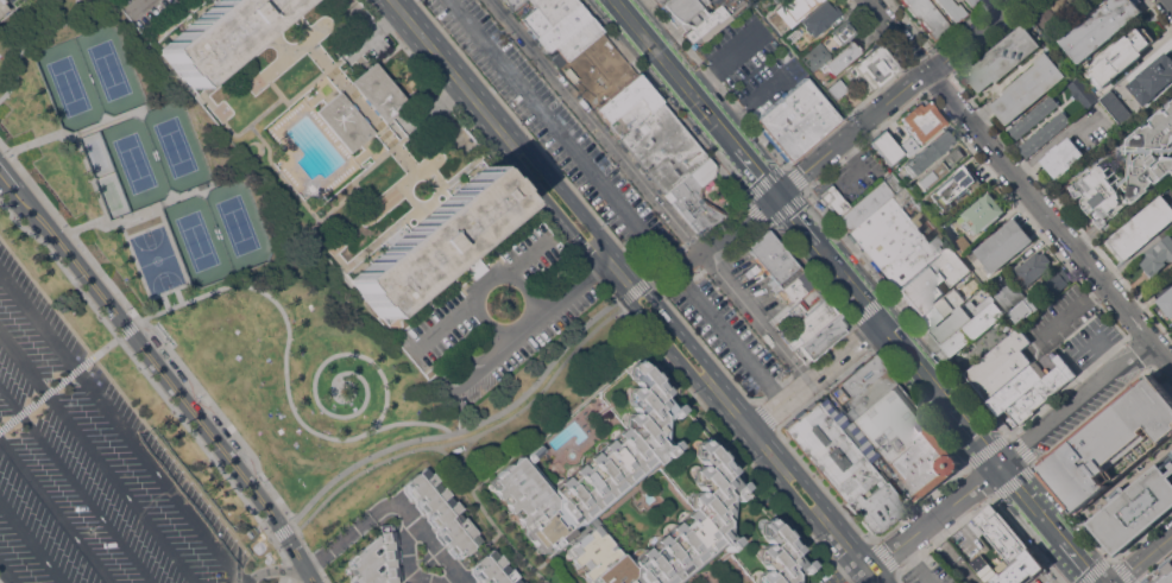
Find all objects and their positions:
building: (661, 1)
building: (775, 1)
road: (1170, 1)
road: (1171, 1)
building: (973, 2)
building: (1077, 2)
building: (512, 4)
building: (795, 5)
building: (2, 6)
road: (138, 7)
building: (554, 7)
building: (1061, 7)
building: (523, 8)
building: (952, 9)
building: (683, 12)
parking lot: (153, 14)
building: (928, 17)
building: (1047, 17)
building: (820, 18)
building: (777, 21)
building: (705, 24)
building: (1101, 26)
building: (562, 27)
building: (844, 30)
building: (218, 34)
road: (367, 34)
building: (600, 34)
road: (25, 38)
road: (880, 42)
building: (574, 43)
building: (815, 56)
building: (1120, 57)
building: (840, 58)
building: (1003, 58)
road: (724, 61)
building: (872, 68)
road: (610, 69)
parking lot: (598, 70)
park: (87, 75)
road: (678, 75)
building: (1153, 78)
road: (716, 83)
building: (837, 88)
building: (1028, 88)
building: (1083, 91)
building: (378, 93)
road: (758, 100)
road: (668, 104)
building: (628, 106)
building: (1117, 106)
building: (1034, 116)
building: (796, 120)
building: (921, 121)
building: (344, 122)
road: (859, 127)
building: (1045, 133)
building: (908, 145)
road: (78, 146)
building: (663, 147)
building: (886, 147)
road: (491, 151)
park: (153, 153)
building: (926, 153)
building: (1061, 157)
building: (939, 166)
building: (704, 172)
road: (760, 172)
building: (1128, 172)
road: (1020, 182)
road: (647, 189)
building: (953, 189)
traffic signals: (779, 195)
parking lot: (612, 196)
road: (615, 199)
building: (833, 199)
building: (869, 202)
building: (693, 203)
road: (140, 210)
building: (984, 213)
road: (799, 218)
building: (1142, 227)
road: (145, 229)
road: (69, 232)
park: (216, 233)
building: (896, 239)
building: (433, 241)
building: (962, 245)
building: (1004, 245)
road: (63, 248)
building: (1158, 256)
road: (524, 258)
building: (773, 258)
park: (157, 262)
road: (688, 264)
building: (1034, 266)
road: (661, 273)
road: (511, 279)
building: (933, 279)
park: (259, 280)
building: (1057, 281)
road: (637, 284)
parking lot: (756, 284)
building: (774, 285)
building: (796, 286)
road: (622, 290)
road: (634, 290)
road: (169, 291)
building: (1009, 294)
road: (177, 296)
building: (785, 297)
road: (164, 302)
building: (1166, 302)
road: (1072, 308)
building: (943, 310)
building: (1023, 310)
building: (792, 315)
parking lot: (498, 316)
building: (959, 319)
road: (538, 321)
road: (443, 322)
building: (809, 324)
road: (887, 324)
road: (128, 327)
road: (522, 327)
building: (972, 328)
building: (820, 340)
road: (102, 348)
road: (1108, 356)
building: (997, 357)
road: (140, 366)
road: (77, 367)
road: (284, 369)
road: (809, 375)
building: (1004, 375)
building: (856, 379)
building: (1027, 380)
road: (61, 381)
building: (870, 392)
road: (45, 393)
building: (1041, 393)
park: (138, 395)
road: (31, 405)
road: (1076, 405)
road: (319, 406)
road: (20, 414)
road: (221, 418)
building: (891, 423)
road: (7, 424)
road: (121, 427)
road: (462, 429)
road: (976, 436)
road: (470, 437)
road: (732, 443)
road: (216, 445)
road: (464, 450)
road: (96, 458)
building: (924, 464)
building: (1121, 465)
parking lot: (88, 467)
building: (590, 469)
building: (844, 469)
road: (76, 486)
road: (392, 505)
road: (1033, 505)
road: (55, 512)
building: (441, 513)
road: (934, 515)
road: (486, 517)
road: (281, 531)
building: (670, 532)
building: (1002, 533)
road: (31, 543)
road: (279, 551)
road: (309, 552)
building: (779, 557)
road: (1142, 557)
building: (378, 559)
road: (408, 563)
road: (919, 563)
road: (1084, 563)
building: (983, 568)
building: (1021, 569)
building: (493, 570)
road: (1067, 570)
road: (273, 571)
road: (290, 571)
road: (867, 572)
road: (308, 574)
building: (1161, 574)
road: (6, 575)
road: (880, 575)
road: (284, 576)
road: (850, 578)
road: (286, 581)
road: (291, 581)
road: (461, 582)

